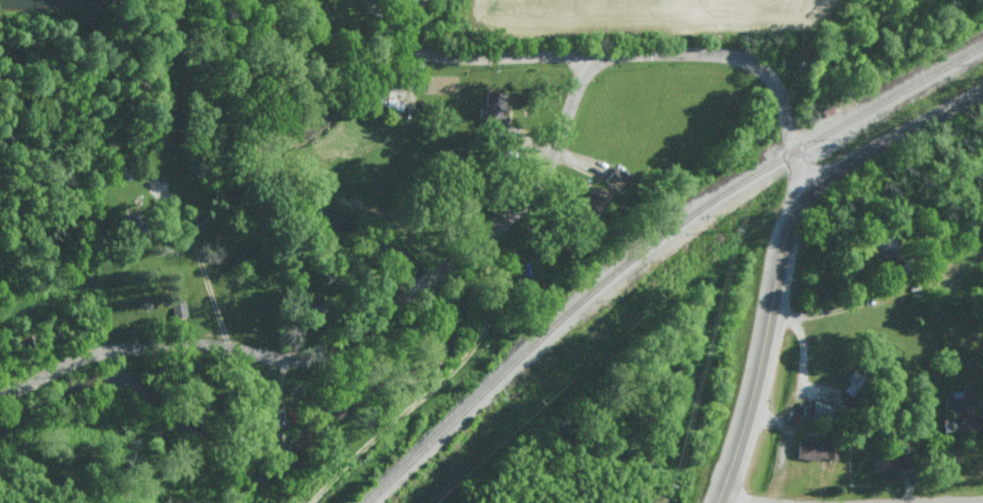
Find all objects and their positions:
road: (467, 54)
road: (742, 61)
building: (395, 103)
building: (495, 103)
road: (541, 176)
building: (617, 177)
building: (142, 223)
railway: (654, 243)
building: (887, 244)
road: (780, 246)
road: (200, 258)
road: (421, 284)
building: (178, 308)
road: (832, 308)
road: (199, 341)
road: (796, 368)
road: (433, 381)
building: (855, 381)
building: (824, 410)
road: (762, 413)
building: (957, 413)
building: (817, 449)
road: (126, 451)
building: (891, 466)
road: (949, 501)
road: (732, 502)

